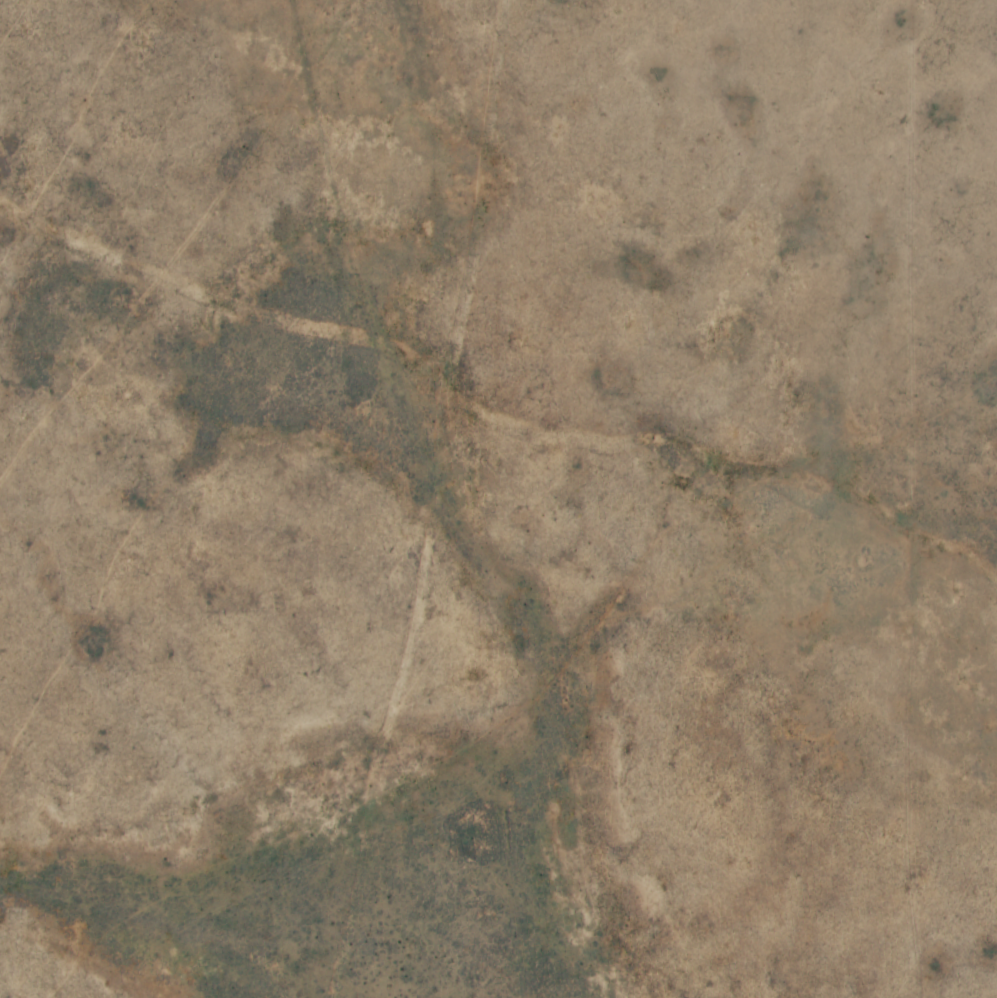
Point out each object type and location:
road: (925, 499)

